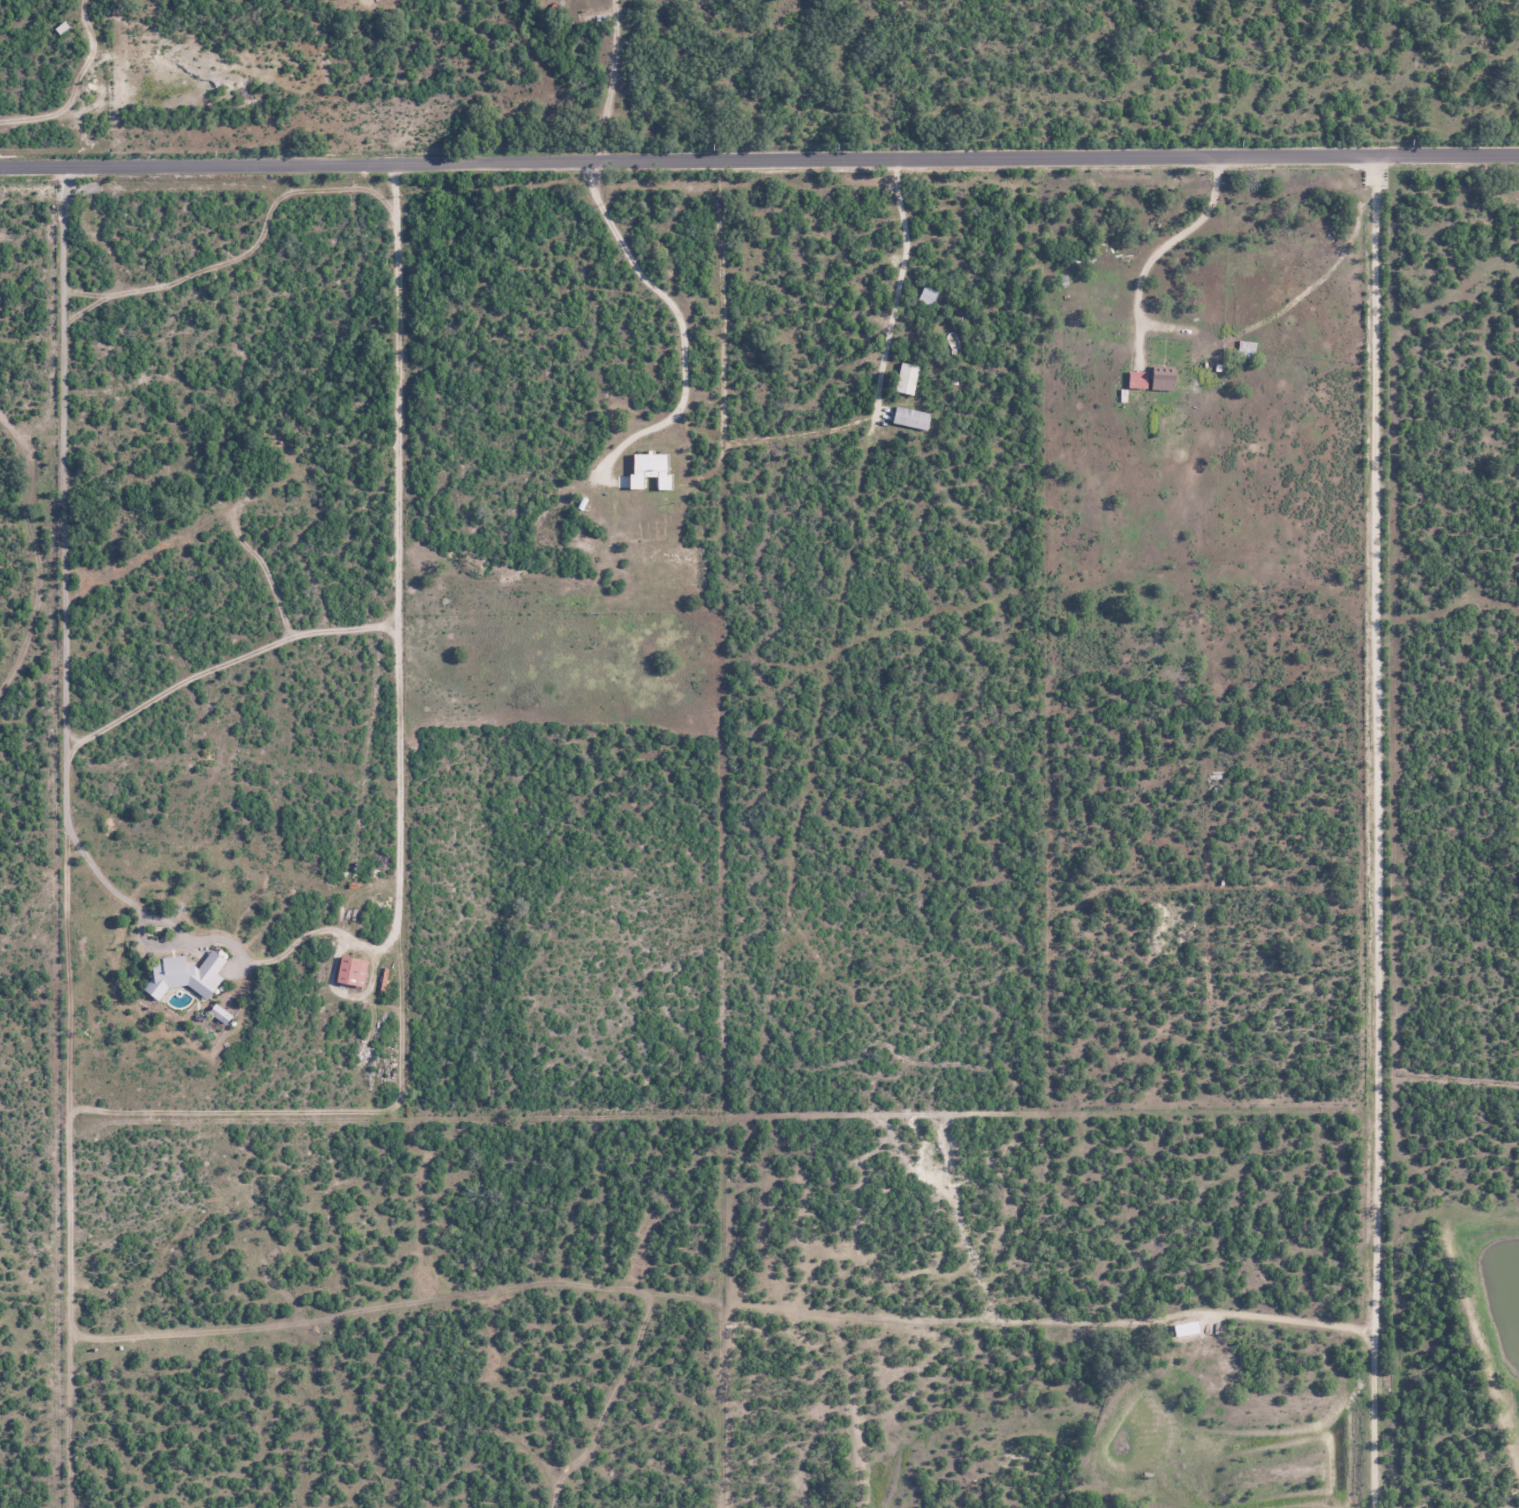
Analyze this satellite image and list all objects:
building: (61, 27)
road: (611, 81)
road: (759, 159)
road: (1168, 241)
road: (904, 286)
building: (927, 295)
road: (688, 319)
building: (1246, 348)
building: (906, 377)
building: (1165, 378)
building: (911, 417)
building: (652, 469)
road: (1379, 831)
road: (266, 966)
building: (353, 970)
building: (186, 974)
building: (1187, 1328)

